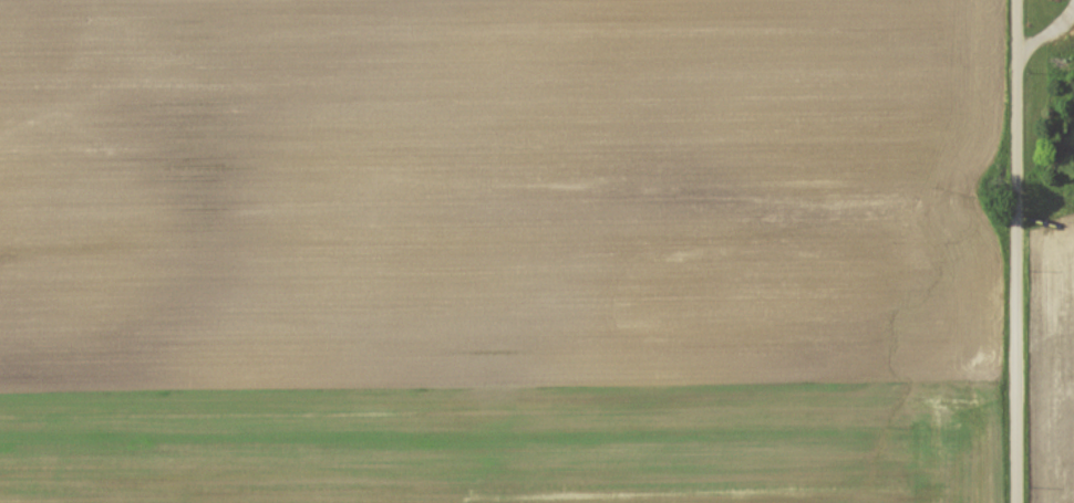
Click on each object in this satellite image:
road: (1046, 40)
road: (1012, 251)

